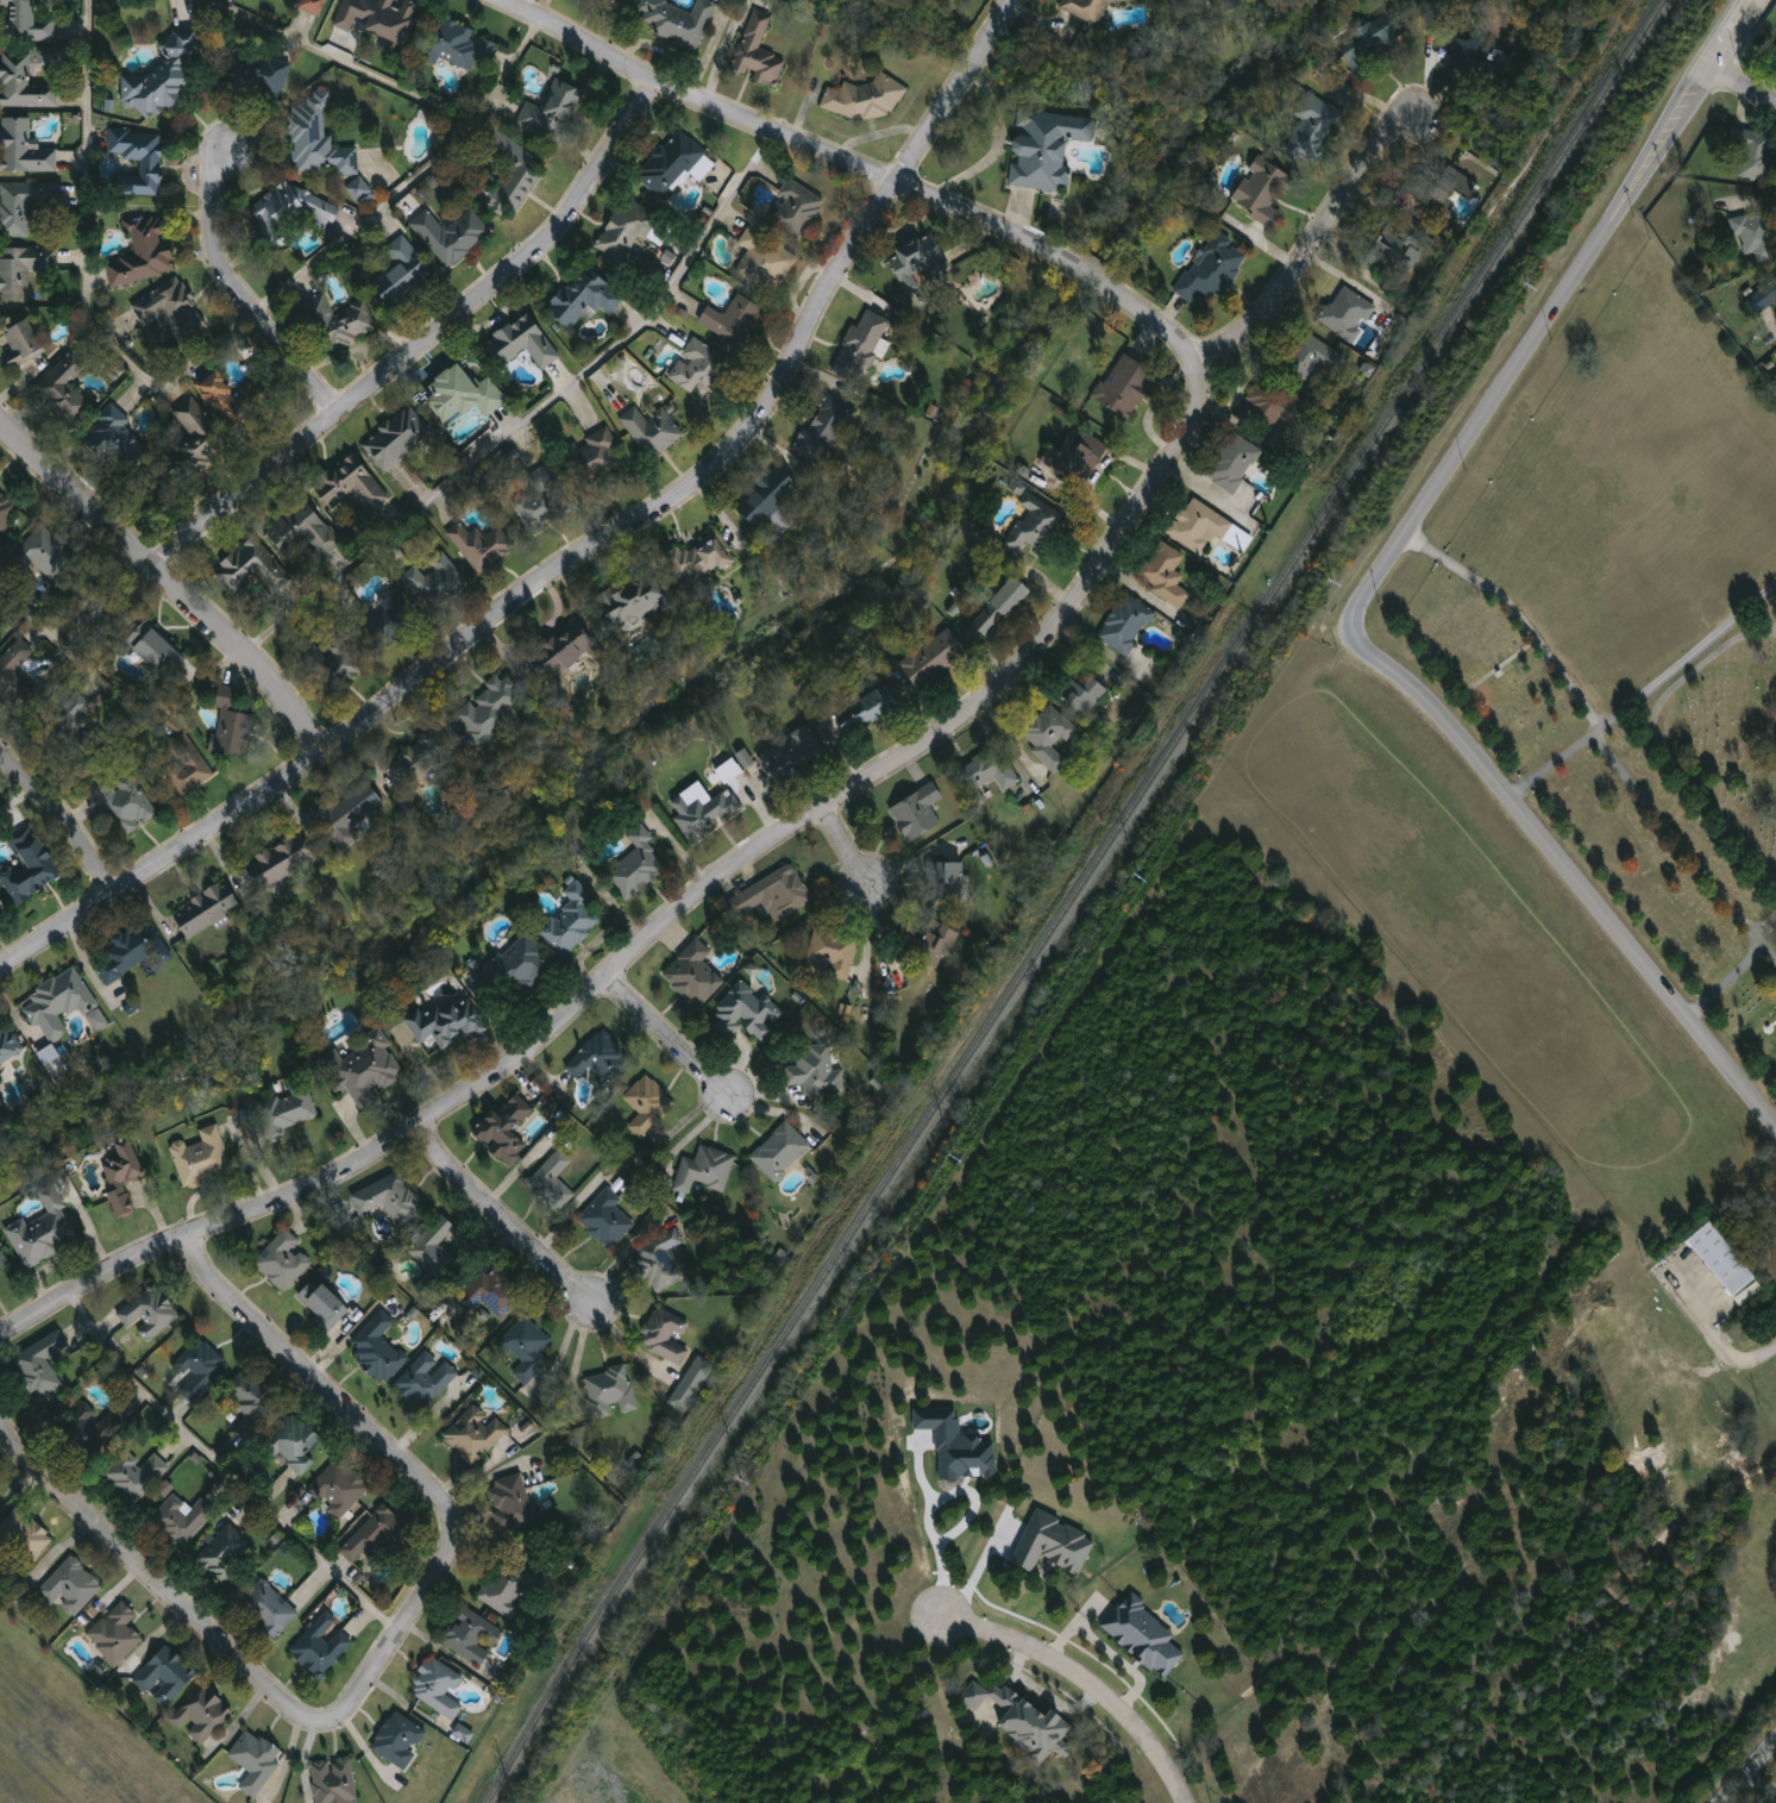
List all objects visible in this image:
building: (1185, 2)
building: (1228, 2)
building: (313, 6)
building: (1088, 8)
building: (381, 18)
building: (27, 20)
building: (678, 23)
building: (1373, 44)
building: (457, 45)
building: (759, 54)
building: (1775, 57)
building: (1475, 60)
road: (339, 61)
building: (253, 70)
building: (169, 75)
building: (25, 83)
road: (1739, 87)
building: (867, 99)
building: (553, 112)
building: (1312, 129)
building: (320, 139)
building: (25, 149)
building: (1047, 149)
building: (1757, 156)
building: (140, 161)
building: (672, 164)
building: (514, 173)
road: (413, 180)
building: (360, 189)
building: (1263, 190)
building: (1442, 194)
building: (24, 206)
building: (296, 206)
building: (793, 208)
building: (627, 231)
building: (451, 234)
building: (1756, 237)
road: (1313, 242)
building: (145, 253)
building: (1394, 253)
building: (765, 261)
building: (918, 262)
road: (84, 265)
building: (1213, 269)
building: (23, 271)
building: (402, 271)
road: (236, 292)
building: (585, 298)
building: (1763, 300)
building: (170, 308)
road: (1540, 312)
building: (1348, 314)
building: (734, 321)
building: (339, 323)
building: (23, 340)
road: (421, 343)
building: (523, 343)
building: (861, 348)
building: (1312, 358)
building: (702, 371)
building: (1125, 387)
building: (67, 389)
building: (464, 396)
building: (226, 402)
building: (1269, 407)
road: (538, 417)
building: (829, 430)
building: (653, 431)
building: (118, 438)
building: (397, 439)
building: (196, 442)
building: (601, 452)
building: (1074, 459)
building: (1234, 463)
building: (350, 483)
road: (1203, 487)
building: (767, 496)
building: (541, 501)
building: (6, 511)
building: (1035, 525)
building: (1205, 528)
building: (303, 533)
building: (482, 547)
building: (49, 553)
road: (585, 557)
building: (701, 562)
building: (252, 568)
building: (1166, 575)
building: (437, 582)
road: (167, 584)
building: (635, 603)
building: (100, 606)
building: (1000, 608)
road: (1513, 613)
road: (1765, 616)
building: (384, 621)
building: (1128, 626)
park: (1637, 628)
building: (565, 652)
building: (159, 653)
building: (15, 657)
building: (935, 659)
road: (1683, 659)
building: (340, 664)
building: (1539, 671)
road: (108, 688)
road: (989, 690)
building: (1084, 695)
building: (868, 710)
building: (489, 712)
building: (70, 720)
building: (232, 725)
building: (1049, 737)
road: (1657, 745)
building: (421, 758)
building: (792, 758)
building: (189, 772)
building: (985, 776)
road: (17, 799)
building: (130, 806)
road: (1651, 808)
building: (353, 812)
building: (704, 813)
building: (918, 813)
road: (63, 816)
road: (843, 844)
building: (282, 862)
building: (638, 866)
building: (31, 868)
road: (1570, 870)
building: (949, 881)
building: (774, 895)
railway: (1072, 899)
building: (2, 909)
building: (207, 909)
building: (571, 922)
road: (1765, 925)
road: (881, 932)
road: (866, 935)
building: (933, 945)
building: (133, 953)
building: (831, 954)
building: (519, 969)
building: (695, 976)
road: (1725, 981)
building: (59, 1004)
building: (747, 1013)
building: (96, 1019)
building: (448, 1023)
road: (669, 1038)
building: (8, 1043)
building: (48, 1054)
building: (601, 1060)
building: (816, 1072)
building: (365, 1073)
building: (649, 1107)
building: (282, 1115)
building: (507, 1131)
road: (690, 1135)
building: (782, 1152)
building: (203, 1159)
building: (705, 1171)
building: (124, 1178)
building: (552, 1183)
building: (390, 1200)
road: (500, 1220)
building: (607, 1220)
building: (44, 1233)
building: (441, 1248)
building: (4, 1259)
building: (1724, 1260)
building: (283, 1262)
building: (663, 1262)
building: (492, 1295)
building: (324, 1306)
building: (150, 1314)
building: (665, 1338)
building: (527, 1345)
road: (1719, 1346)
building: (378, 1350)
building: (43, 1366)
building: (201, 1371)
building: (426, 1379)
building: (692, 1385)
building: (610, 1392)
building: (252, 1408)
building: (92, 1432)
building: (476, 1433)
building: (294, 1445)
building: (955, 1445)
road: (225, 1467)
building: (137, 1477)
building: (340, 1489)
road: (933, 1503)
building: (512, 1504)
building: (183, 1520)
building: (375, 1536)
building: (20, 1544)
building: (1052, 1544)
building: (224, 1555)
road: (980, 1569)
building: (509, 1584)
building: (71, 1588)
building: (268, 1609)
building: (115, 1634)
building: (1142, 1634)
building: (472, 1636)
building: (320, 1649)
road: (385, 1649)
road: (1093, 1667)
building: (165, 1677)
building: (438, 1688)
building: (202, 1714)
building: (1018, 1719)
building: (463, 1733)
building: (400, 1740)
building: (256, 1760)
road: (1746, 1768)
building: (334, 1782)

